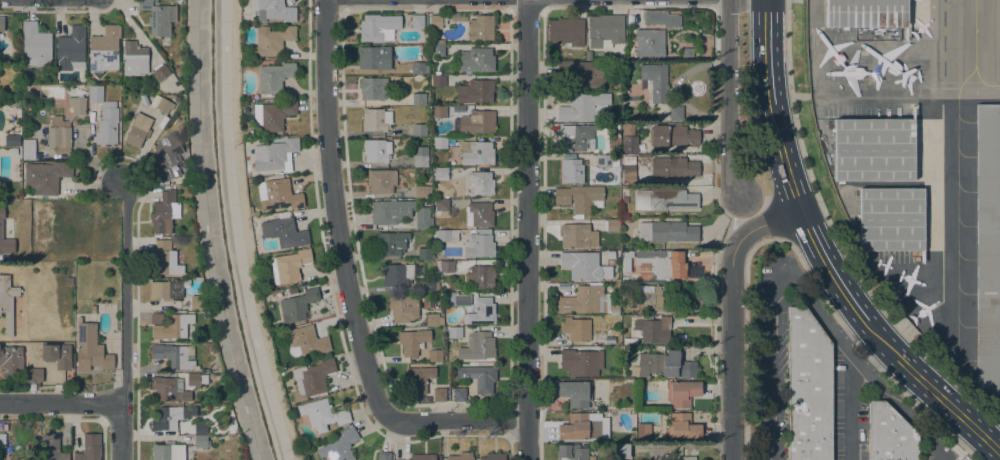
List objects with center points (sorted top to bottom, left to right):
building: (178, 1)
building: (273, 10)
building: (866, 13)
building: (158, 17)
building: (651, 17)
building: (438, 21)
building: (417, 22)
building: (2, 24)
building: (378, 27)
building: (480, 28)
building: (605, 30)
building: (566, 31)
airport taxiway: (974, 32)
building: (271, 41)
building: (439, 42)
building: (649, 44)
building: (36, 46)
building: (104, 49)
building: (71, 50)
building: (437, 50)
road: (766, 52)
building: (374, 58)
building: (134, 59)
building: (476, 60)
building: (418, 68)
building: (160, 73)
building: (584, 75)
building: (274, 77)
building: (438, 81)
building: (655, 81)
building: (371, 89)
building: (475, 92)
building: (95, 94)
road: (728, 96)
building: (177, 99)
building: (419, 99)
building: (164, 106)
building: (583, 107)
building: (439, 112)
building: (676, 113)
building: (273, 115)
building: (375, 120)
building: (475, 123)
building: (107, 124)
building: (65, 126)
building: (138, 130)
building: (420, 130)
building: (673, 135)
building: (577, 138)
building: (11, 140)
building: (440, 143)
building: (630, 144)
building: (28, 150)
building: (873, 150)
building: (377, 151)
building: (476, 153)
building: (273, 154)
building: (168, 156)
building: (421, 157)
building: (607, 160)
building: (629, 160)
airport: (918, 162)
building: (184, 166)
building: (673, 167)
building: (572, 171)
building: (441, 174)
building: (46, 177)
building: (381, 181)
building: (482, 183)
building: (422, 192)
building: (278, 195)
building: (579, 199)
building: (625, 199)
building: (673, 200)
building: (441, 205)
road: (334, 211)
building: (164, 212)
building: (253, 212)
building: (391, 212)
building: (481, 214)
building: (851, 218)
building: (891, 219)
building: (423, 220)
building: (613, 225)
building: (437, 228)
building: (1, 229)
road: (527, 229)
building: (483, 230)
building: (667, 231)
road: (249, 232)
building: (285, 233)
building: (447, 236)
building: (578, 236)
building: (634, 236)
road: (838, 238)
building: (391, 243)
building: (479, 245)
building: (988, 250)
building: (425, 254)
building: (610, 255)
building: (167, 257)
building: (660, 265)
building: (289, 266)
building: (446, 267)
building: (584, 267)
building: (417, 271)
building: (398, 275)
building: (480, 277)
building: (629, 278)
building: (69, 281)
building: (429, 286)
building: (168, 289)
building: (294, 291)
building: (652, 298)
building: (450, 300)
road: (851, 300)
building: (586, 301)
building: (7, 302)
building: (197, 303)
building: (297, 306)
building: (404, 308)
building: (93, 309)
building: (481, 312)
road: (731, 314)
road: (772, 315)
building: (433, 320)
road: (125, 321)
building: (170, 326)
road: (848, 326)
building: (576, 329)
building: (653, 330)
building: (455, 333)
building: (306, 341)
building: (413, 341)
building: (630, 341)
building: (481, 346)
building: (91, 349)
building: (57, 355)
building: (176, 356)
building: (435, 356)
building: (581, 362)
building: (18, 364)
building: (664, 365)
building: (312, 378)
building: (479, 378)
building: (419, 379)
building: (196, 380)
building: (809, 388)
building: (170, 389)
building: (576, 393)
building: (682, 393)
building: (459, 394)
road: (851, 394)
building: (439, 395)
road: (60, 402)
building: (617, 414)
building: (323, 415)
road: (905, 415)
building: (170, 417)
road: (456, 420)
building: (200, 428)
building: (579, 428)
building: (682, 428)
building: (643, 432)
building: (890, 434)
building: (2, 441)
building: (202, 443)
building: (339, 446)
building: (52, 448)
building: (89, 448)
building: (623, 451)
building: (168, 452)
building: (572, 452)
building: (384, 456)
building: (422, 457)
building: (461, 457)
building: (493, 457)
building: (686, 458)

